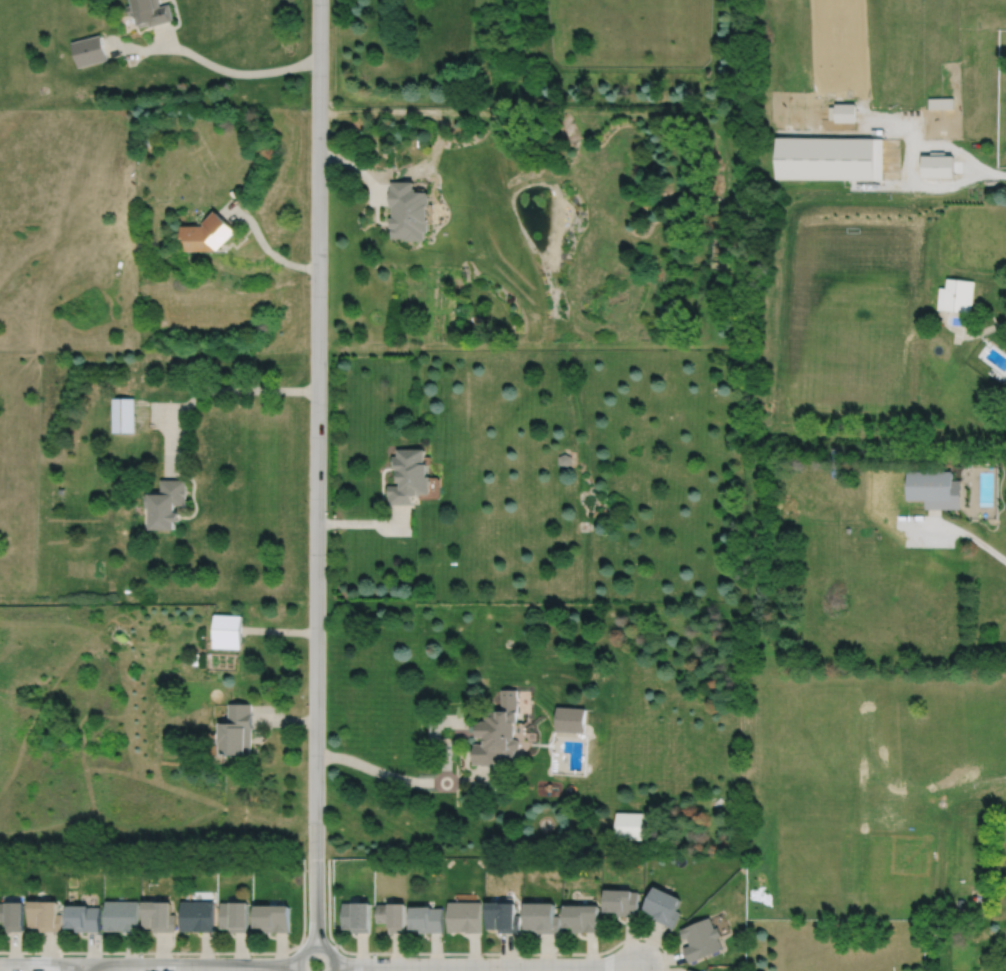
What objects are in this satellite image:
building: (150, 12)
building: (89, 51)
road: (212, 64)
building: (942, 103)
building: (849, 111)
road: (497, 114)
road: (999, 157)
building: (831, 159)
building: (938, 165)
road: (978, 165)
road: (357, 169)
road: (999, 175)
road: (970, 184)
road: (1002, 185)
building: (409, 211)
building: (208, 231)
road: (265, 246)
building: (956, 294)
road: (971, 333)
road: (241, 389)
building: (123, 414)
road: (155, 416)
road: (174, 444)
building: (564, 459)
road: (317, 473)
building: (411, 475)
building: (934, 488)
building: (166, 503)
road: (366, 522)
road: (963, 531)
building: (227, 631)
road: (280, 631)
building: (570, 720)
road: (284, 721)
road: (446, 721)
building: (237, 731)
building: (502, 734)
road: (447, 765)
road: (380, 771)
road: (490, 772)
road: (467, 780)
road: (496, 785)
building: (629, 827)
street lamp: (305, 859)
building: (622, 900)
building: (960, 903)
building: (664, 904)
building: (13, 913)
building: (47, 914)
building: (121, 914)
building: (158, 914)
building: (235, 914)
building: (197, 915)
building: (358, 915)
building: (393, 915)
building: (505, 915)
building: (544, 915)
building: (84, 916)
building: (273, 916)
building: (466, 916)
building: (583, 916)
building: (428, 917)
building: (702, 938)
road: (315, 947)
road: (194, 953)
road: (469, 954)
street lamp: (405, 956)
road: (147, 965)
road: (485, 966)
road: (81, 968)
building: (692, 970)

